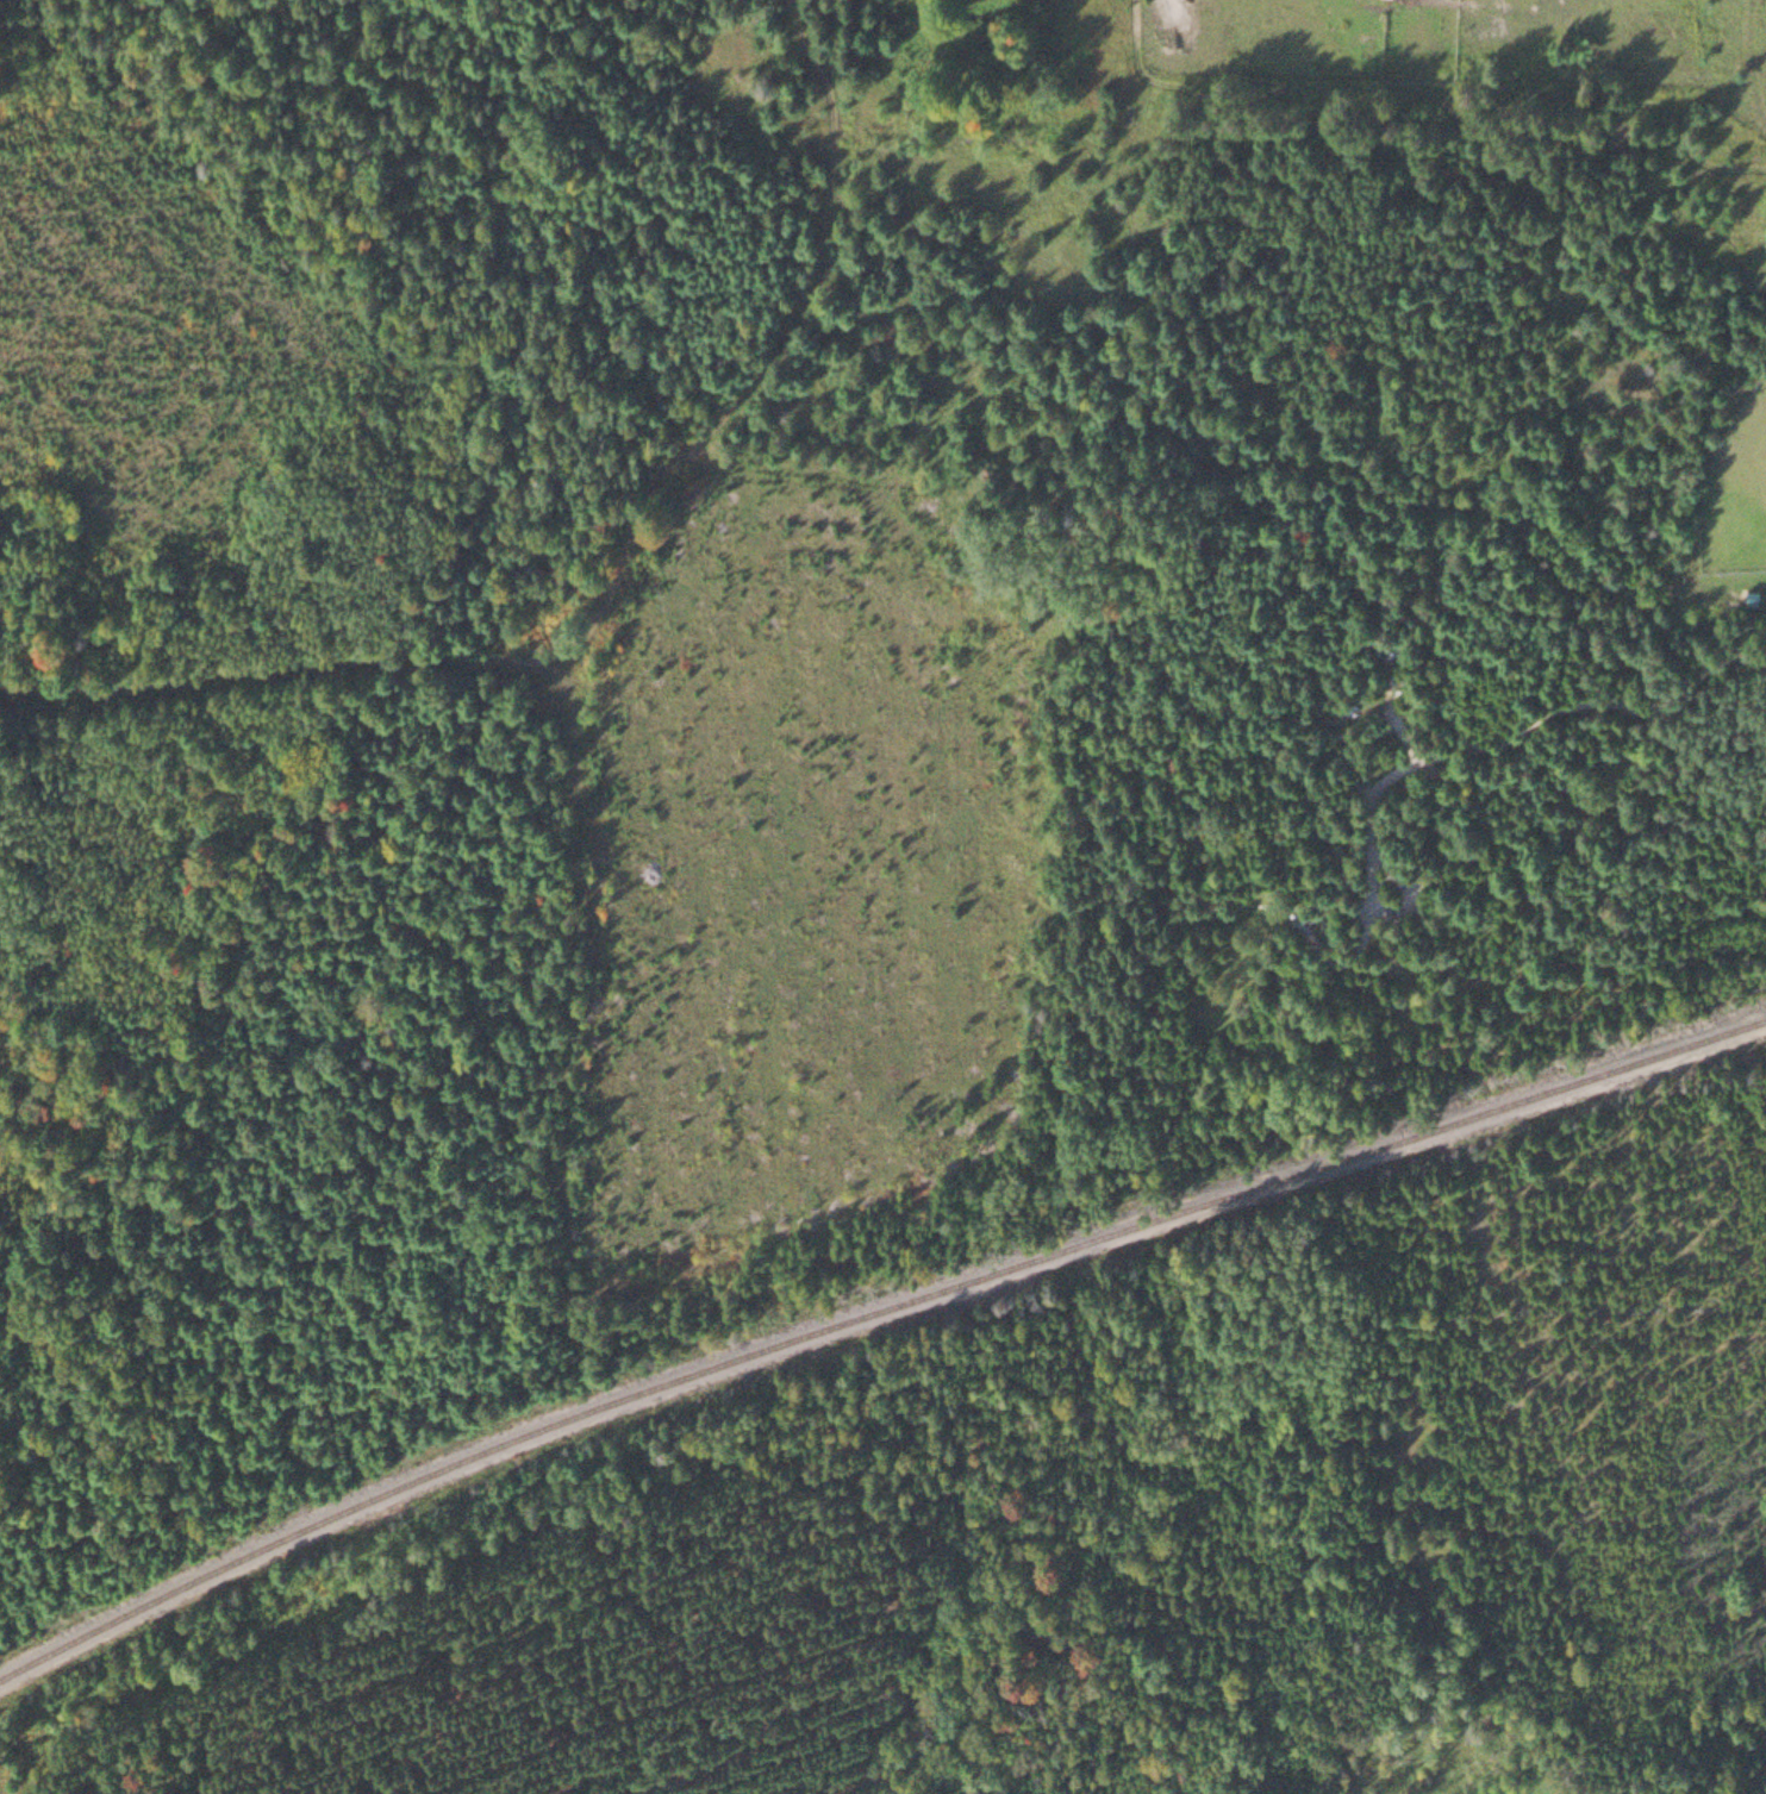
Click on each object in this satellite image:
railway: (869, 1311)

